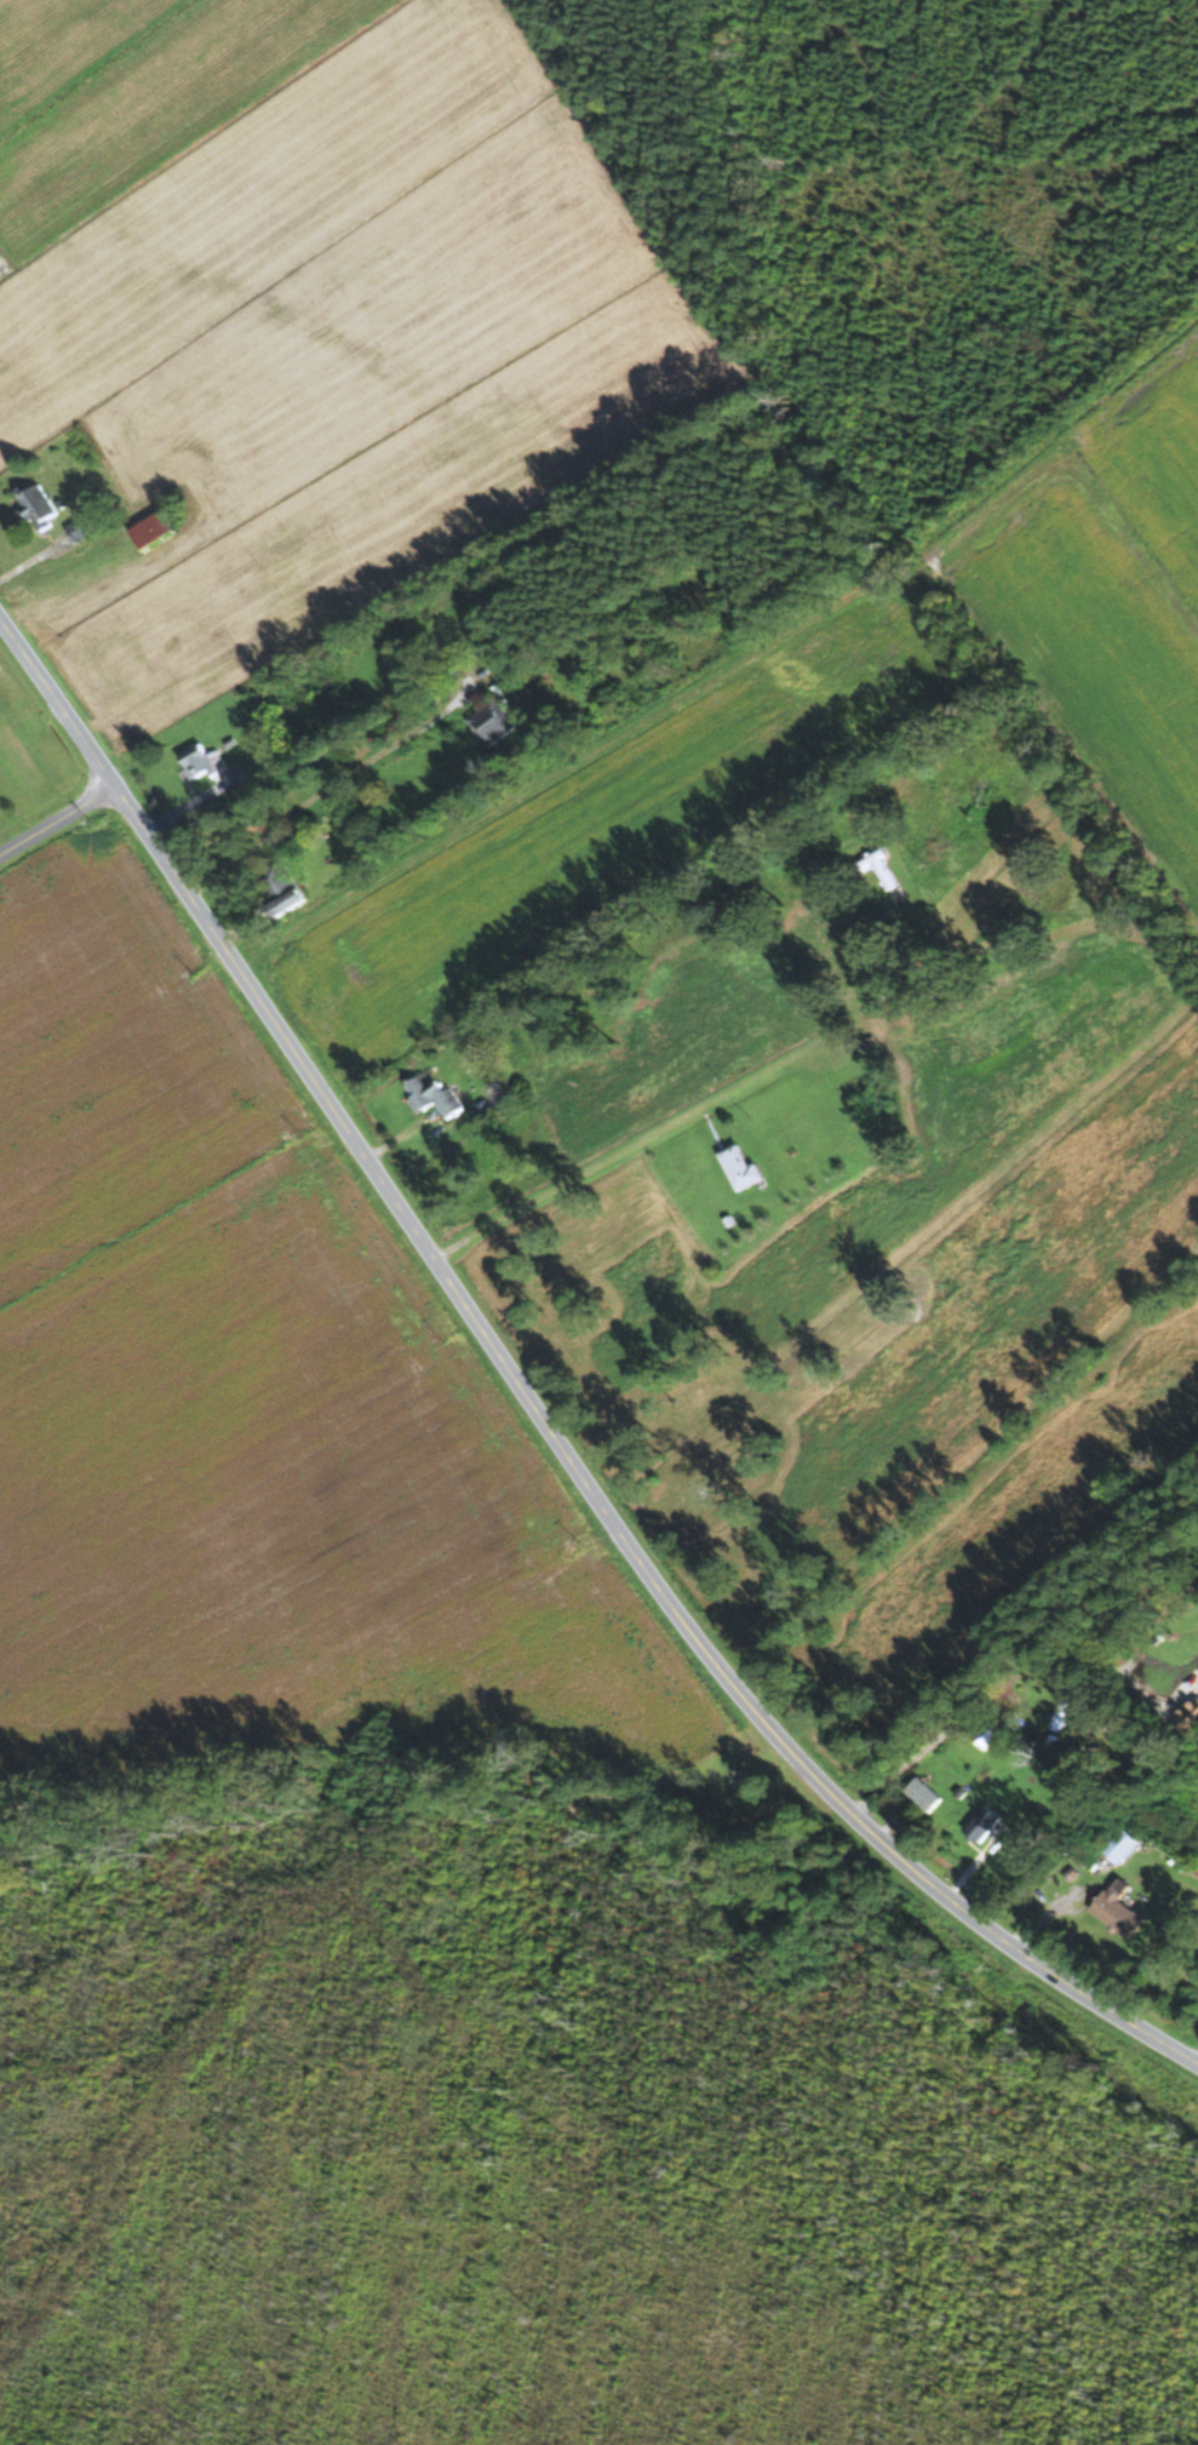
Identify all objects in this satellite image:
building: (35, 506)
building: (79, 529)
building: (150, 529)
building: (489, 723)
building: (197, 762)
road: (546, 780)
road: (319, 795)
road: (57, 823)
building: (877, 868)
building: (281, 889)
building: (430, 1095)
building: (736, 1167)
road: (573, 1179)
road: (532, 1410)
building: (1061, 1713)
building: (1187, 1717)
building: (986, 1737)
building: (922, 1794)
building: (1119, 1845)
building: (1009, 1865)
building: (1116, 1913)

